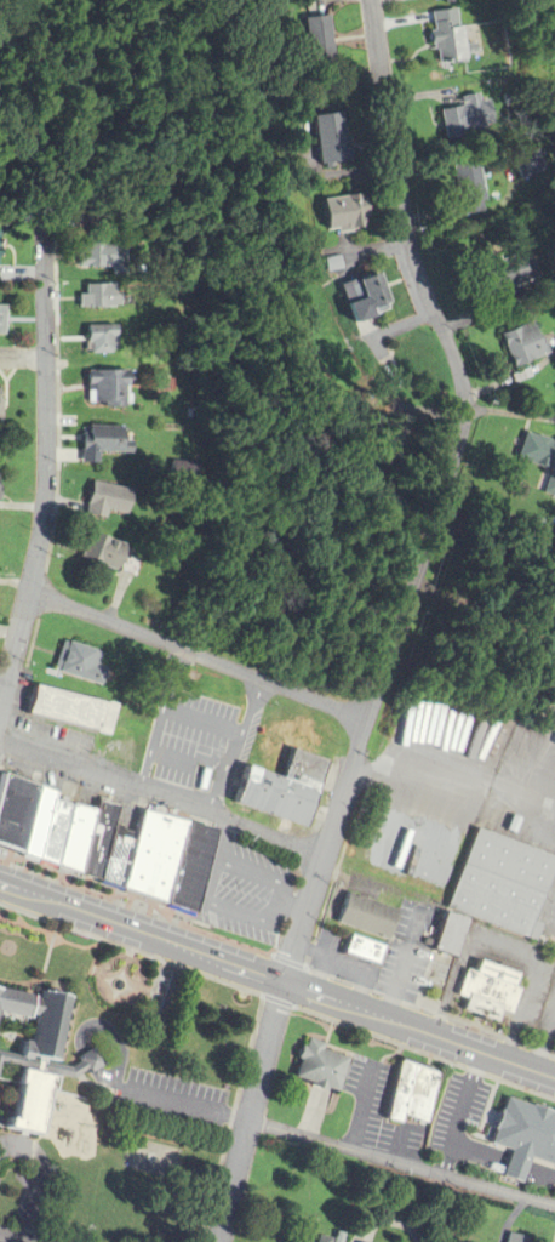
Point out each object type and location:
building: (424, 0)
building: (315, 40)
building: (444, 42)
building: (460, 119)
building: (326, 141)
building: (517, 172)
building: (468, 184)
building: (344, 217)
building: (101, 258)
building: (18, 273)
building: (502, 273)
building: (107, 295)
building: (362, 302)
building: (2, 319)
building: (97, 338)
building: (522, 343)
building: (107, 388)
building: (1, 409)
building: (533, 440)
building: (102, 443)
road: (41, 461)
road: (439, 496)
building: (105, 501)
building: (105, 553)
road: (480, 613)
road: (195, 659)
building: (59, 684)
road: (160, 719)
parking lot: (195, 731)
road: (235, 748)
road: (162, 796)
building: (290, 799)
building: (107, 839)
building: (496, 882)
building: (547, 898)
parking lot: (251, 901)
road: (143, 908)
building: (445, 934)
building: (350, 942)
park: (130, 976)
road: (276, 984)
fountain: (119, 985)
building: (487, 996)
park: (162, 997)
parking lot: (537, 1007)
road: (420, 1009)
road: (115, 1046)
building: (32, 1055)
road: (91, 1060)
building: (317, 1083)
parking lot: (147, 1088)
building: (410, 1095)
road: (178, 1103)
parking lot: (462, 1110)
road: (250, 1113)
building: (519, 1140)
park: (151, 1158)
road: (401, 1164)
building: (515, 1237)
road: (10, 1238)
building: (313, 1238)
building: (321, 1238)

